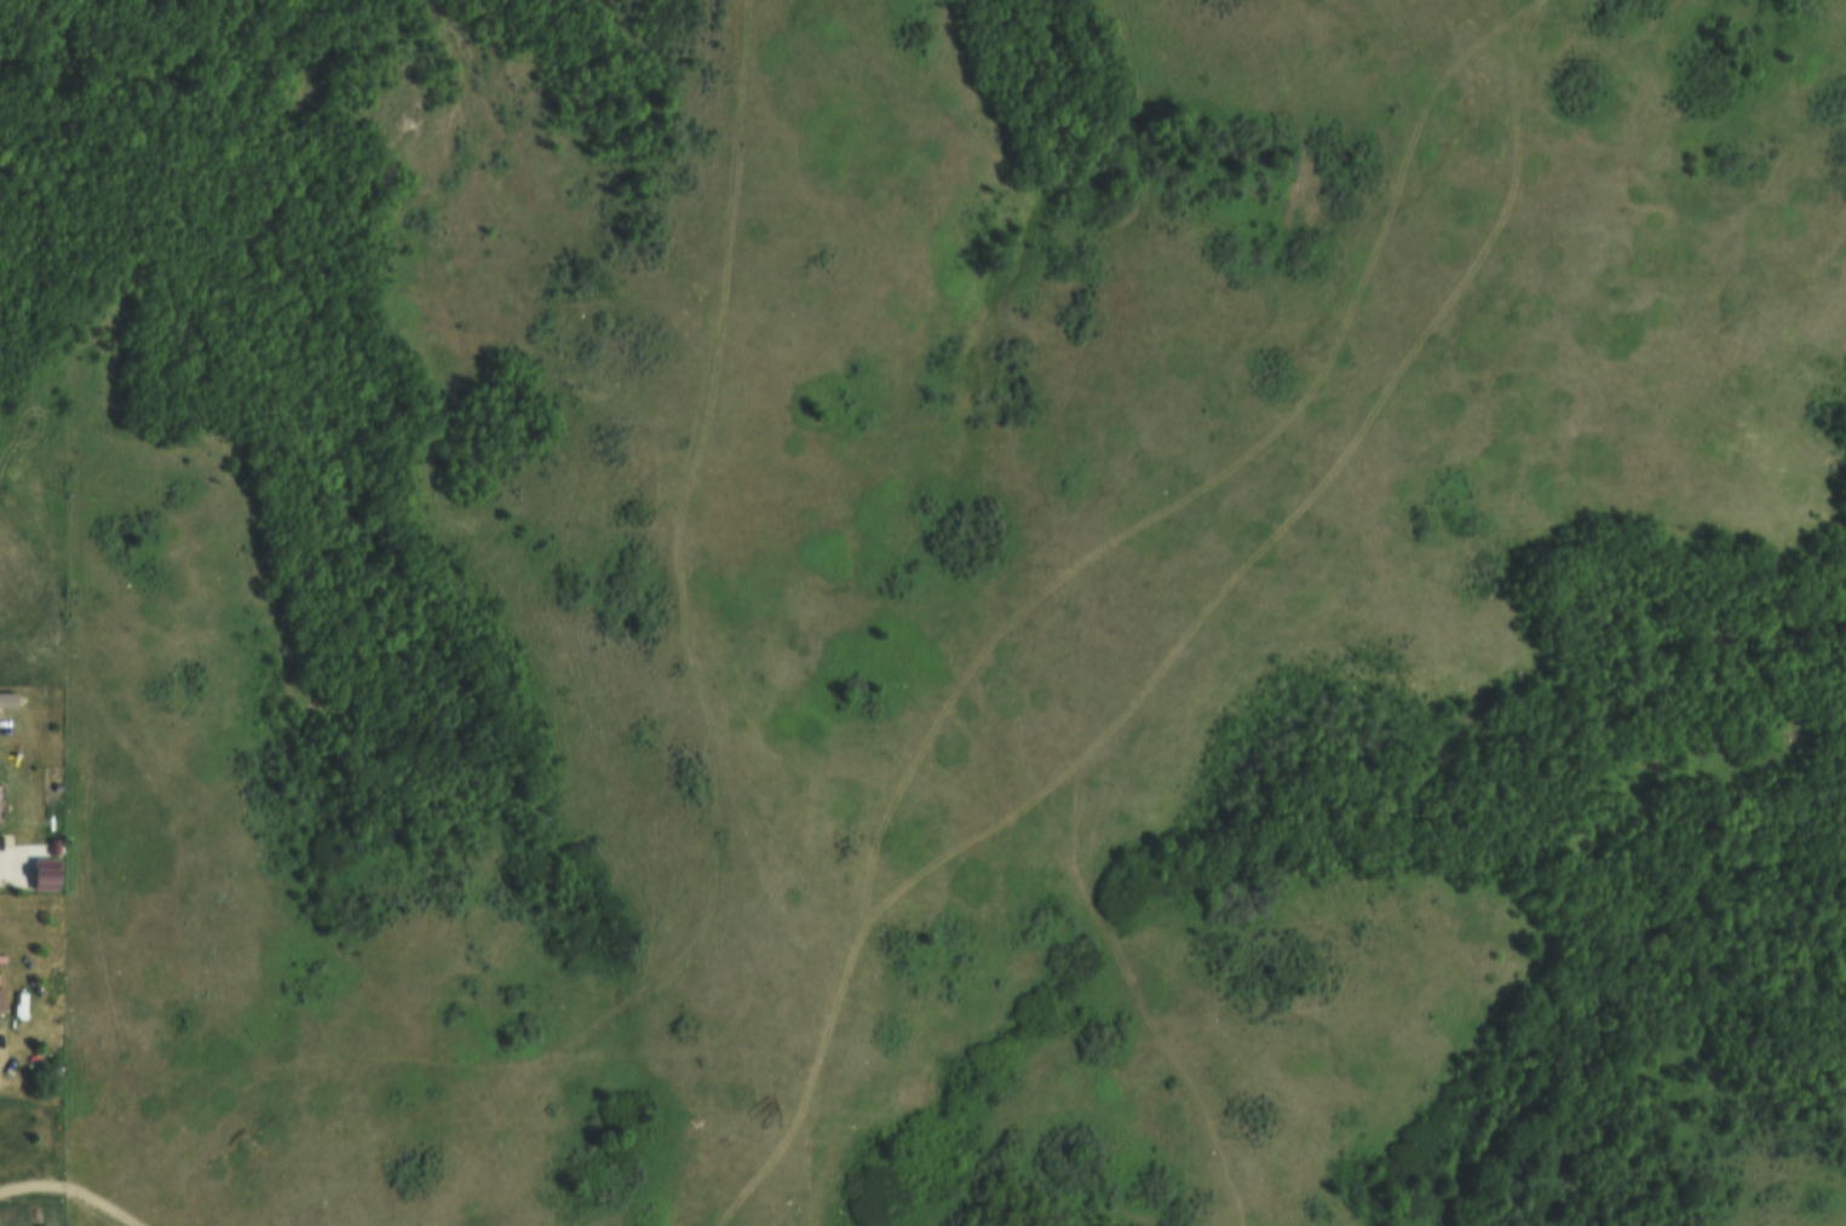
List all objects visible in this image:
building: (51, 819)
building: (51, 842)
road: (67, 1195)
building: (41, 1224)

